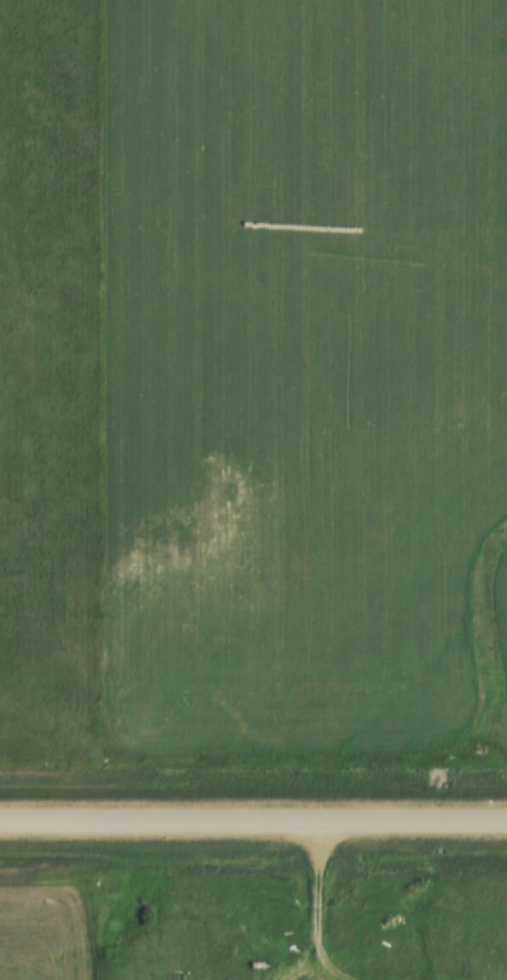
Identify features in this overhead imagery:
road: (253, 821)
road: (319, 900)

